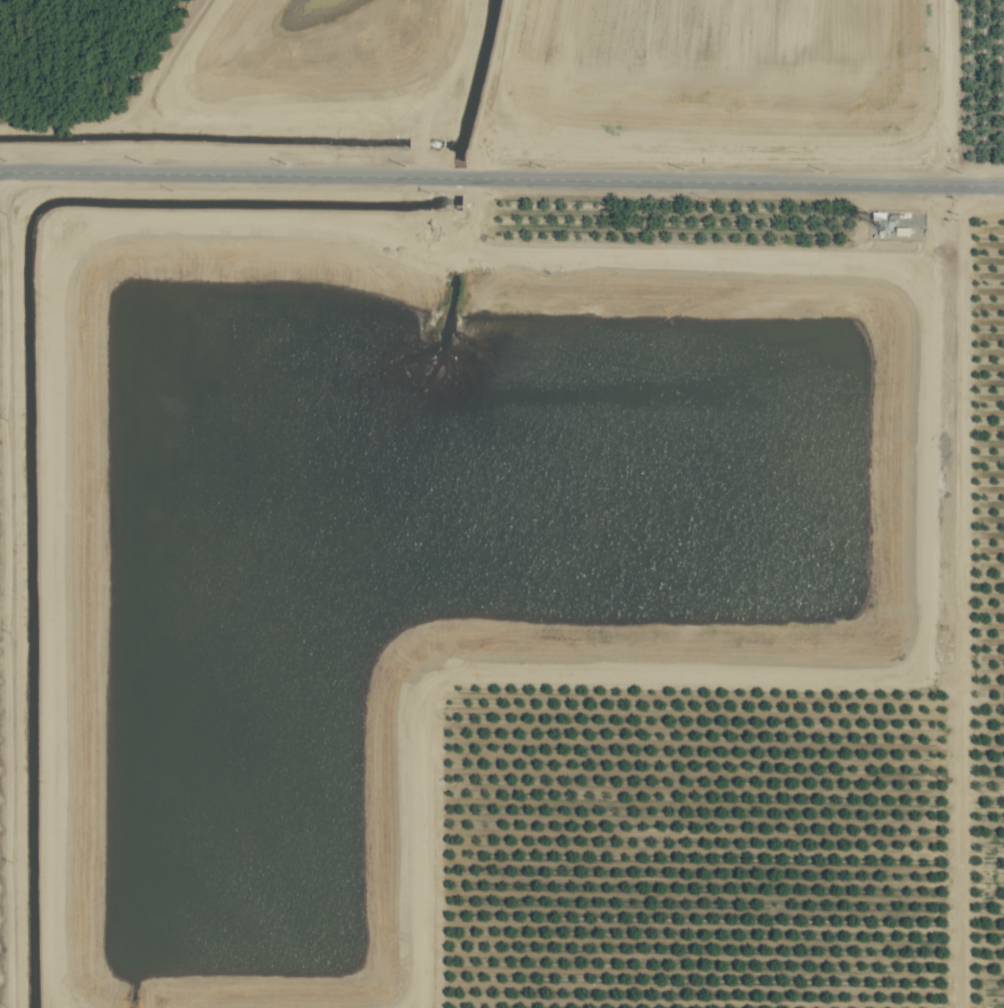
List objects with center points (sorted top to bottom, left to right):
road: (502, 177)
crop: (502, 504)
road: (11, 590)

